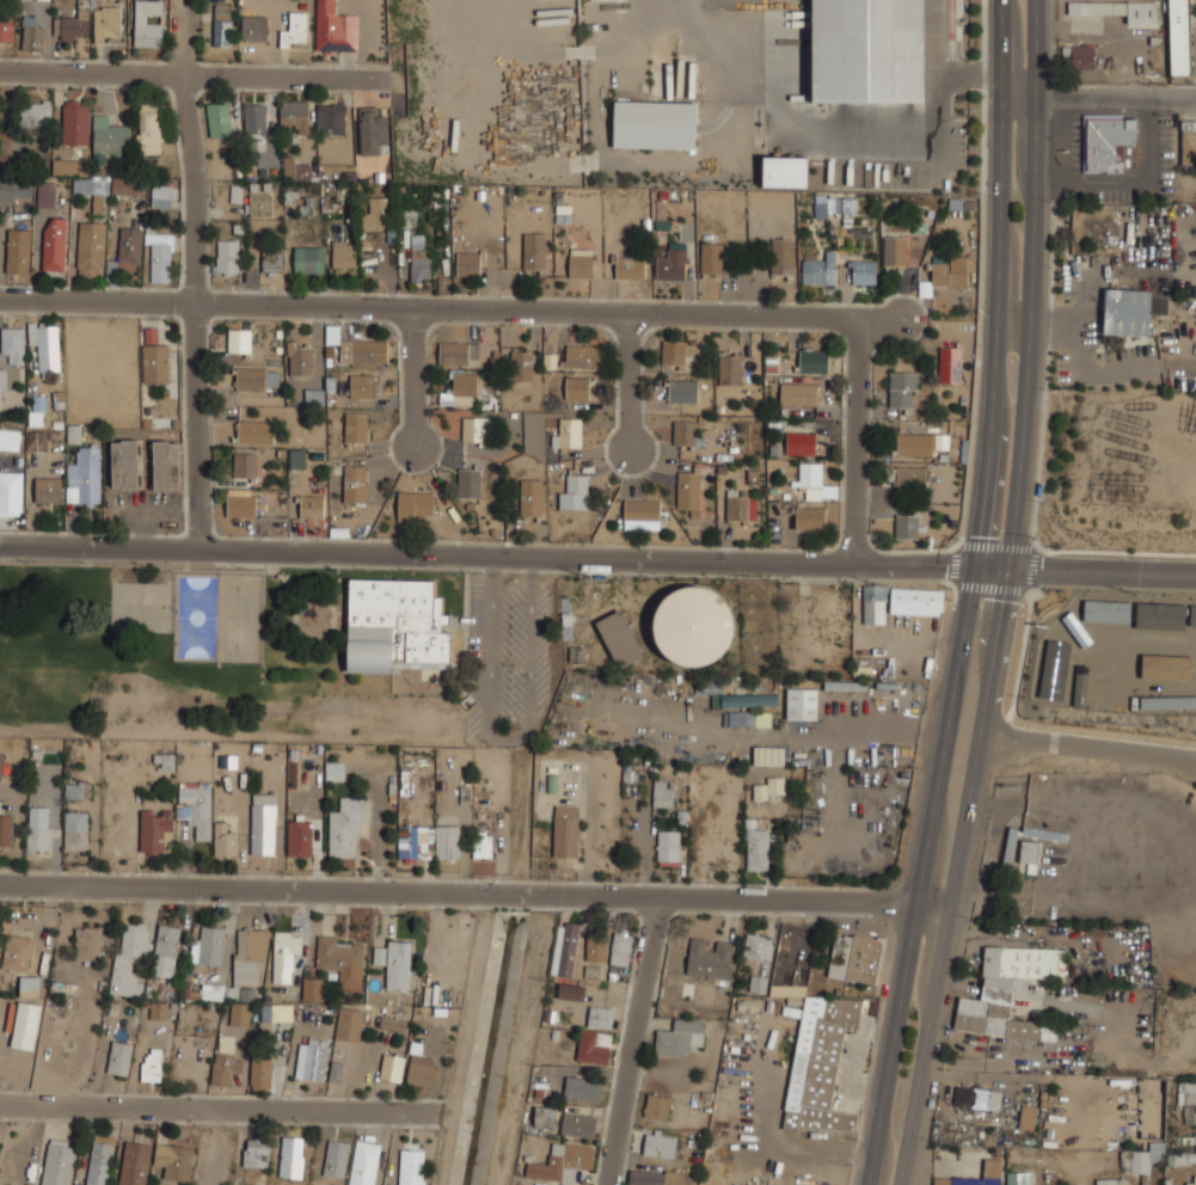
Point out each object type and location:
building: (1118, 11)
building: (106, 23)
building: (147, 24)
building: (72, 25)
building: (222, 25)
building: (254, 29)
building: (295, 29)
building: (335, 29)
building: (6, 31)
building: (1179, 37)
building: (32, 38)
building: (869, 50)
building: (1082, 57)
road: (180, 74)
road: (1099, 97)
building: (35, 112)
building: (295, 115)
building: (254, 118)
building: (219, 119)
building: (331, 119)
building: (75, 121)
building: (655, 124)
building: (149, 128)
building: (373, 131)
building: (108, 137)
building: (1106, 141)
building: (1188, 142)
building: (68, 165)
building: (289, 166)
building: (302, 172)
building: (785, 172)
building: (102, 188)
building: (16, 190)
building: (45, 194)
building: (161, 195)
building: (260, 205)
building: (821, 205)
building: (375, 215)
building: (410, 219)
building: (54, 245)
building: (130, 247)
building: (91, 248)
building: (18, 250)
building: (534, 251)
building: (895, 251)
building: (343, 254)
building: (161, 257)
building: (228, 257)
building: (419, 257)
building: (783, 257)
building: (711, 258)
building: (308, 259)
building: (272, 262)
building: (581, 263)
building: (468, 264)
building: (671, 265)
building: (630, 268)
building: (820, 270)
building: (949, 270)
building: (863, 272)
road: (192, 278)
road: (1032, 284)
road: (452, 308)
building: (1131, 311)
road: (1016, 324)
building: (151, 334)
building: (332, 334)
building: (239, 339)
building: (13, 342)
building: (45, 343)
building: (362, 350)
building: (673, 352)
building: (456, 354)
building: (583, 355)
building: (299, 357)
building: (812, 360)
building: (155, 362)
building: (521, 363)
building: (950, 364)
road: (995, 367)
building: (729, 369)
building: (254, 377)
road: (416, 377)
road: (630, 381)
building: (2, 382)
building: (464, 382)
building: (361, 386)
building: (577, 387)
building: (902, 388)
building: (682, 389)
building: (798, 393)
building: (313, 394)
building: (1, 399)
building: (37, 410)
building: (355, 426)
building: (473, 428)
building: (256, 431)
building: (568, 431)
building: (686, 432)
building: (74, 434)
building: (10, 436)
road: (853, 440)
building: (37, 441)
building: (942, 442)
building: (799, 443)
building: (914, 444)
building: (296, 459)
building: (124, 462)
building: (166, 463)
building: (246, 465)
building: (810, 474)
building: (84, 477)
building: (910, 477)
building: (467, 481)
building: (355, 483)
building: (48, 489)
building: (11, 491)
building: (574, 491)
building: (689, 491)
building: (530, 496)
building: (241, 504)
building: (415, 505)
building: (741, 505)
building: (311, 506)
building: (642, 512)
building: (810, 516)
building: (907, 527)
road: (504, 557)
traffic signals: (975, 567)
traffic signals: (1010, 569)
road: (1103, 572)
building: (916, 600)
building: (873, 602)
building: (1100, 610)
building: (1160, 615)
building: (1192, 615)
building: (395, 625)
building: (693, 625)
storage tank: (693, 625)
building: (619, 637)
road: (995, 651)
park: (277, 653)
building: (1054, 670)
building: (1102, 683)
building: (845, 684)
building: (750, 699)
building: (802, 702)
building: (1167, 702)
building: (748, 719)
road: (508, 736)
road: (1088, 745)
building: (768, 754)
building: (167, 762)
building: (333, 769)
building: (771, 787)
building: (78, 788)
building: (663, 792)
building: (195, 806)
building: (263, 823)
building: (344, 828)
building: (6, 829)
building: (75, 829)
building: (153, 829)
building: (565, 830)
building: (38, 834)
building: (300, 837)
building: (223, 840)
building: (428, 841)
building: (483, 845)
building: (668, 847)
building: (1010, 847)
building: (758, 848)
building: (1029, 855)
road: (476, 892)
building: (87, 941)
building: (215, 945)
building: (564, 947)
building: (596, 947)
building: (759, 947)
building: (621, 948)
building: (165, 950)
building: (18, 952)
building: (286, 954)
building: (341, 957)
building: (129, 958)
building: (854, 958)
road: (907, 958)
building: (710, 959)
road: (940, 959)
building: (394, 962)
building: (245, 976)
building: (756, 983)
building: (313, 988)
building: (27, 989)
building: (571, 991)
building: (1010, 991)
building: (158, 1009)
building: (276, 1012)
building: (600, 1015)
building: (386, 1019)
building: (349, 1023)
building: (680, 1037)
road: (633, 1042)
building: (594, 1046)
building: (119, 1057)
building: (312, 1057)
building: (223, 1060)
building: (151, 1064)
building: (818, 1064)
building: (392, 1067)
building: (421, 1068)
building: (260, 1072)
building: (582, 1088)
building: (1186, 1092)
building: (1128, 1094)
building: (962, 1097)
building: (987, 1099)
building: (657, 1107)
road: (220, 1109)
building: (545, 1117)
building: (1028, 1117)
building: (1112, 1122)
building: (578, 1124)
building: (660, 1146)
building: (256, 1150)
building: (292, 1156)
building: (1182, 1158)
building: (99, 1159)
building: (336, 1159)
building: (1142, 1159)
building: (174, 1160)
building: (57, 1161)
building: (564, 1161)
building: (135, 1162)
building: (363, 1162)
building: (411, 1166)
building: (993, 1167)
building: (1018, 1178)
building: (1195, 1178)
building: (1111, 1181)

